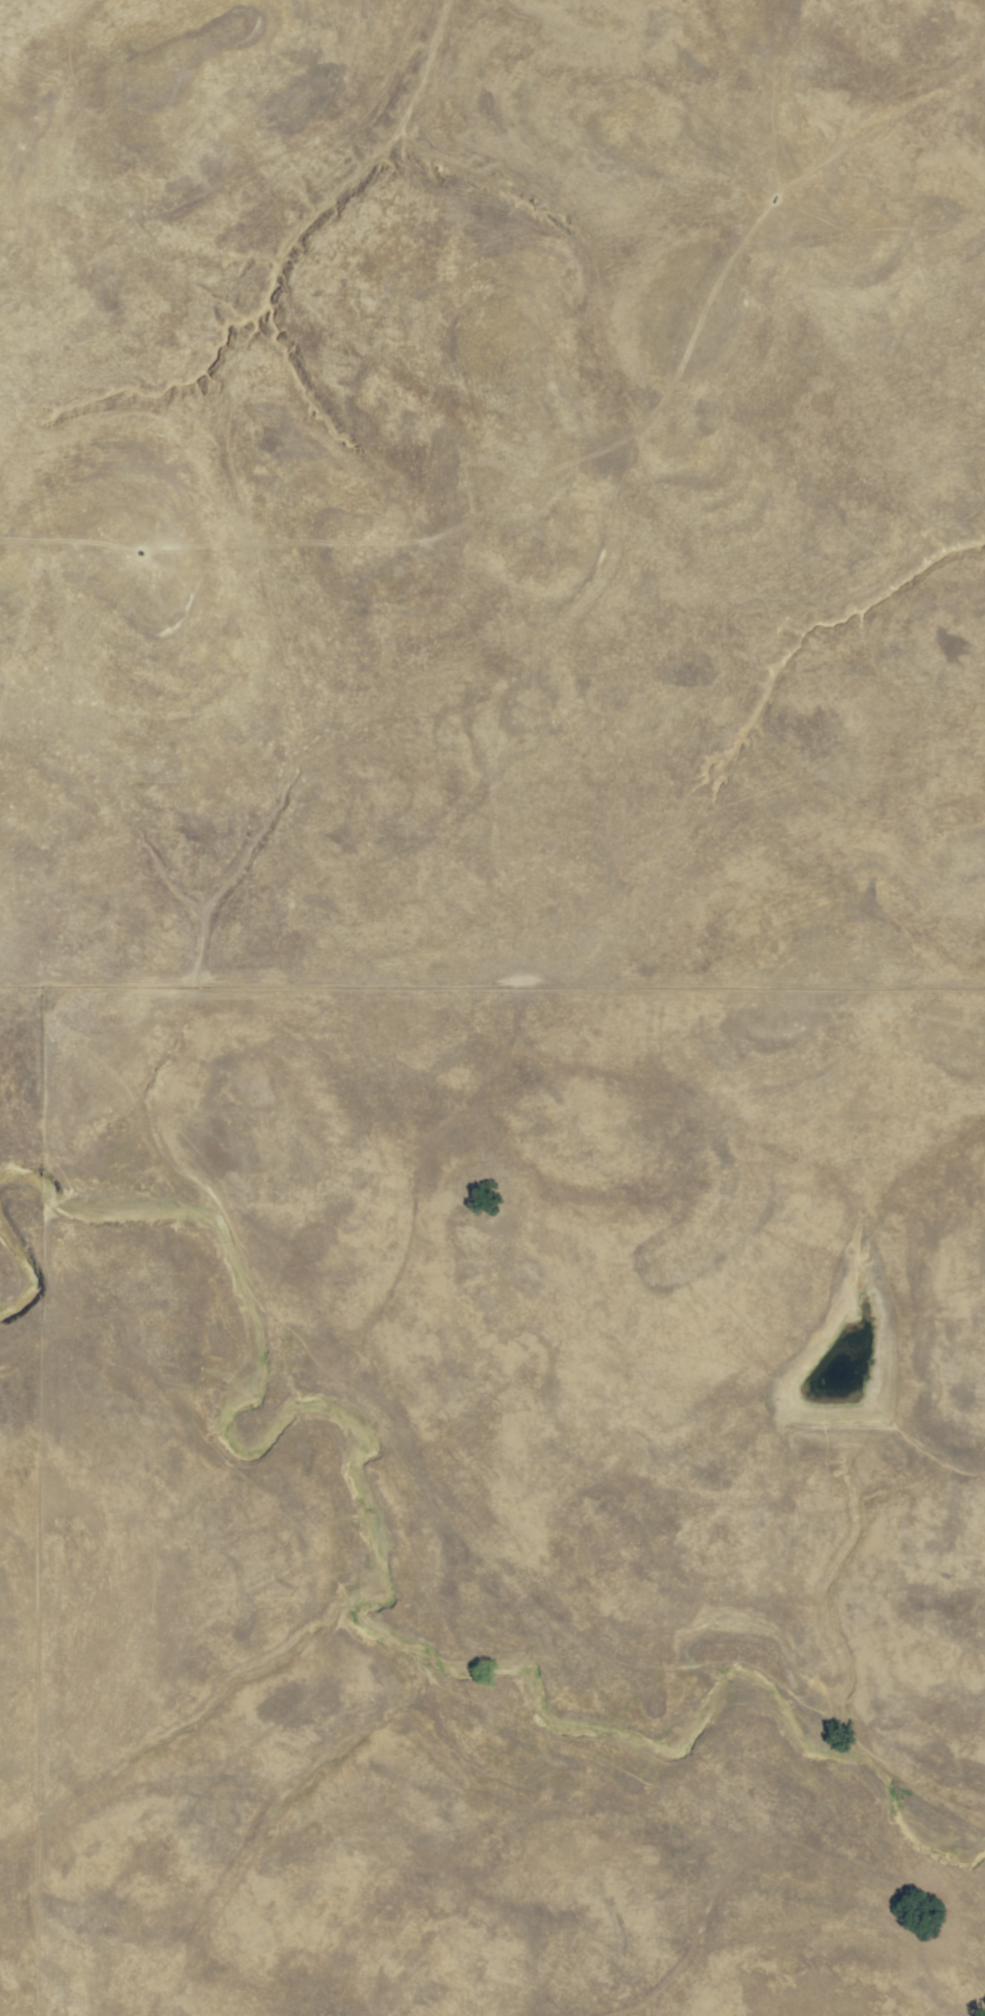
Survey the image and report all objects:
dam: (837, 1417)

